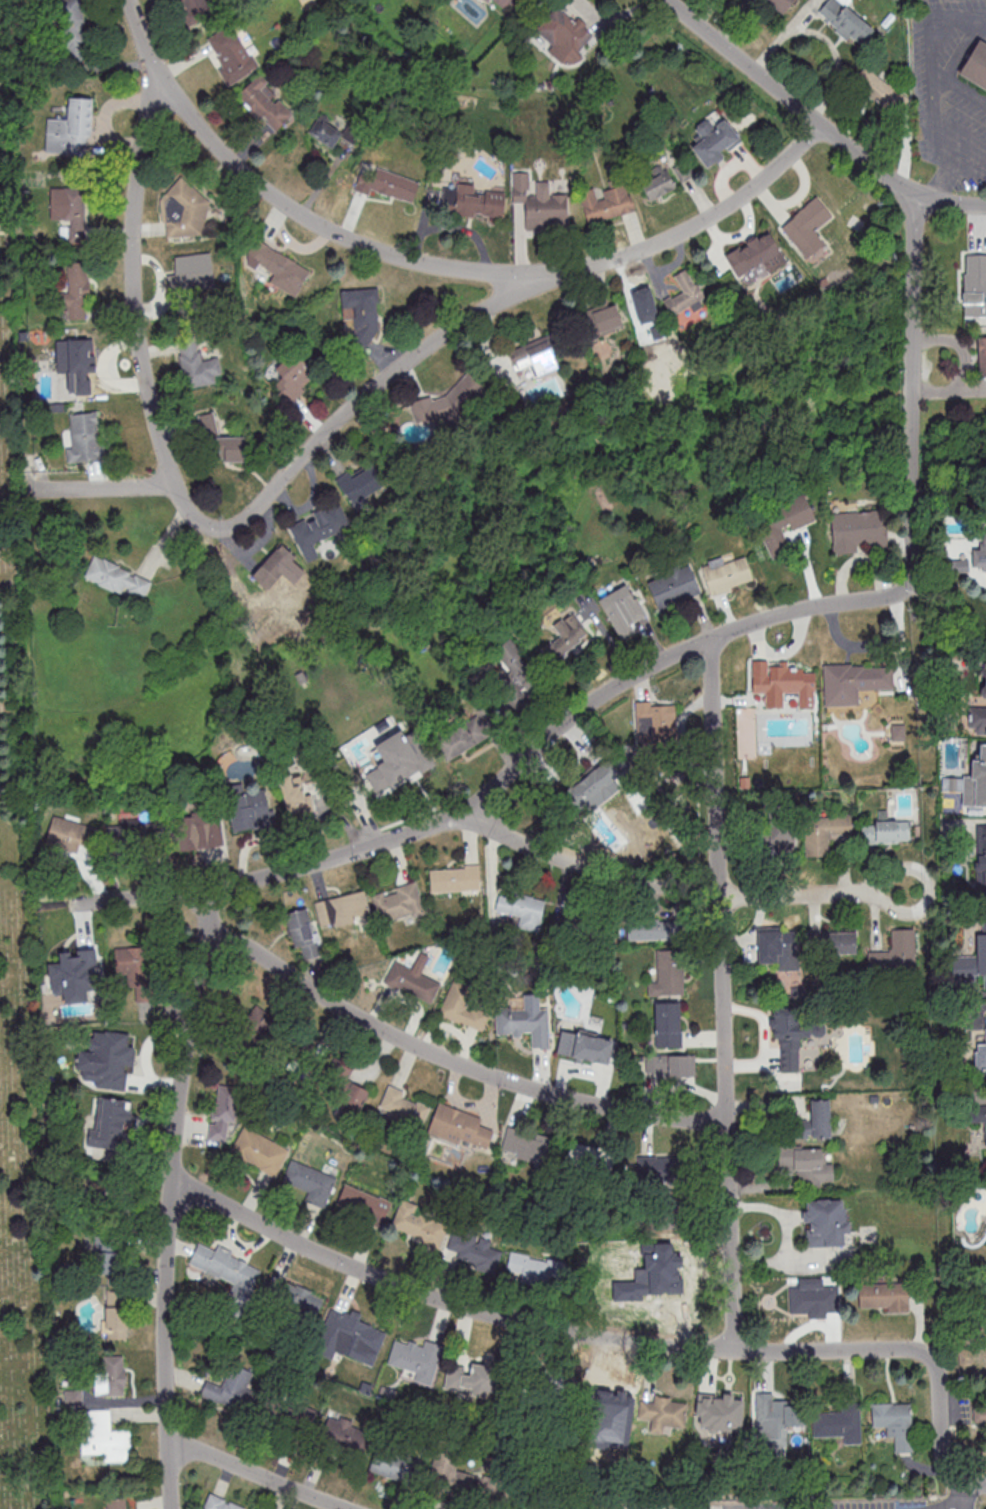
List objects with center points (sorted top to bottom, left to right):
building: (487, 0)
building: (503, 3)
building: (780, 5)
building: (194, 8)
building: (845, 21)
building: (73, 29)
building: (563, 36)
building: (230, 53)
building: (976, 64)
road: (931, 73)
road: (959, 85)
road: (786, 99)
building: (265, 104)
building: (70, 129)
building: (328, 131)
building: (713, 140)
road: (970, 159)
road: (765, 175)
building: (658, 182)
road: (947, 182)
building: (387, 185)
road: (926, 197)
building: (471, 202)
building: (606, 202)
road: (962, 205)
building: (542, 207)
building: (69, 210)
building: (184, 211)
road: (298, 215)
building: (807, 229)
building: (753, 256)
road: (129, 267)
building: (277, 267)
building: (191, 274)
building: (974, 285)
building: (76, 292)
building: (683, 294)
building: (644, 307)
building: (360, 317)
building: (601, 319)
building: (981, 356)
road: (411, 357)
building: (534, 358)
building: (196, 364)
building: (79, 366)
park: (7, 374)
building: (293, 376)
road: (909, 388)
building: (84, 436)
building: (221, 439)
building: (361, 484)
road: (104, 488)
building: (783, 524)
building: (318, 530)
building: (858, 531)
building: (984, 541)
building: (273, 566)
building: (726, 574)
building: (115, 577)
building: (673, 586)
building: (620, 607)
building: (566, 636)
building: (515, 676)
building: (984, 679)
building: (853, 682)
building: (782, 683)
building: (977, 719)
building: (657, 722)
building: (462, 738)
building: (398, 760)
road: (501, 778)
building: (975, 781)
building: (593, 790)
building: (295, 798)
building: (247, 808)
building: (197, 830)
building: (68, 833)
building: (823, 833)
building: (888, 833)
building: (775, 837)
building: (133, 839)
building: (980, 858)
road: (583, 866)
building: (455, 879)
road: (870, 889)
building: (398, 902)
building: (342, 908)
building: (521, 908)
road: (205, 912)
building: (579, 922)
building: (650, 928)
building: (301, 933)
building: (832, 942)
building: (779, 949)
building: (895, 952)
building: (972, 960)
building: (135, 970)
building: (668, 973)
building: (71, 974)
building: (412, 979)
road: (719, 995)
building: (462, 1006)
road: (971, 1014)
building: (524, 1024)
building: (255, 1025)
building: (667, 1028)
building: (787, 1030)
building: (985, 1043)
building: (583, 1046)
building: (109, 1049)
building: (980, 1058)
road: (451, 1061)
building: (669, 1065)
building: (342, 1085)
building: (403, 1111)
building: (221, 1115)
building: (976, 1115)
building: (814, 1121)
building: (110, 1122)
building: (458, 1126)
building: (523, 1145)
building: (259, 1151)
building: (589, 1159)
building: (805, 1164)
building: (663, 1169)
building: (310, 1182)
park: (20, 1196)
building: (365, 1204)
road: (167, 1221)
building: (825, 1223)
building: (418, 1225)
building: (474, 1248)
building: (106, 1255)
building: (536, 1270)
building: (227, 1272)
building: (292, 1296)
building: (814, 1296)
building: (882, 1296)
building: (114, 1323)
road: (537, 1326)
building: (348, 1338)
building: (417, 1358)
building: (110, 1377)
building: (468, 1380)
building: (539, 1387)
building: (231, 1389)
building: (73, 1398)
building: (603, 1410)
building: (662, 1413)
building: (719, 1413)
building: (979, 1415)
building: (286, 1419)
building: (775, 1420)
building: (895, 1423)
building: (839, 1424)
road: (943, 1435)
building: (105, 1437)
building: (343, 1439)
building: (395, 1466)
road: (252, 1475)
building: (465, 1480)
road: (973, 1483)
building: (116, 1503)
building: (219, 1503)
road: (951, 1505)

